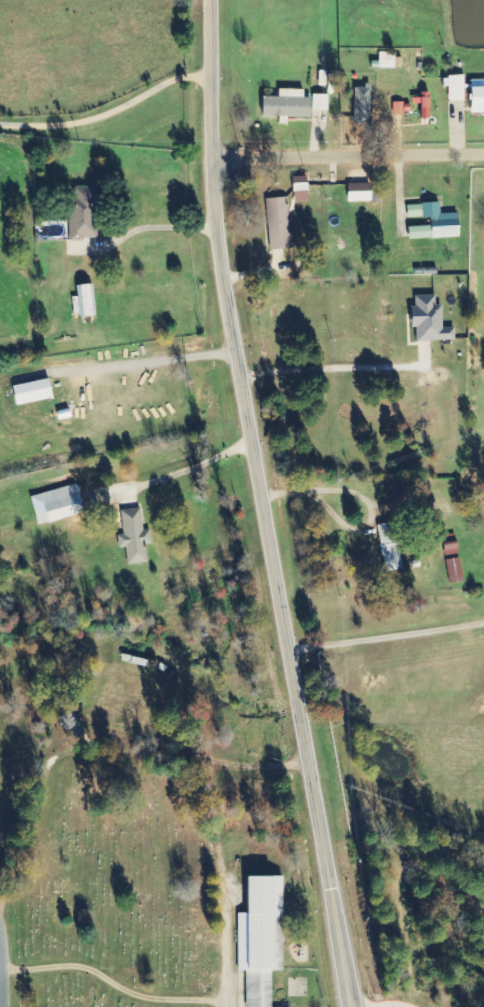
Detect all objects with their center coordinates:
building: (387, 60)
building: (456, 88)
building: (478, 96)
building: (320, 102)
building: (287, 105)
building: (363, 105)
building: (424, 105)
building: (398, 108)
road: (346, 155)
building: (300, 184)
building: (360, 192)
building: (84, 213)
building: (432, 222)
building: (278, 224)
building: (83, 302)
building: (430, 321)
building: (34, 392)
building: (58, 504)
road: (261, 505)
building: (134, 536)
building: (390, 546)
building: (454, 570)
park: (112, 886)
building: (262, 939)
road: (0, 1002)

